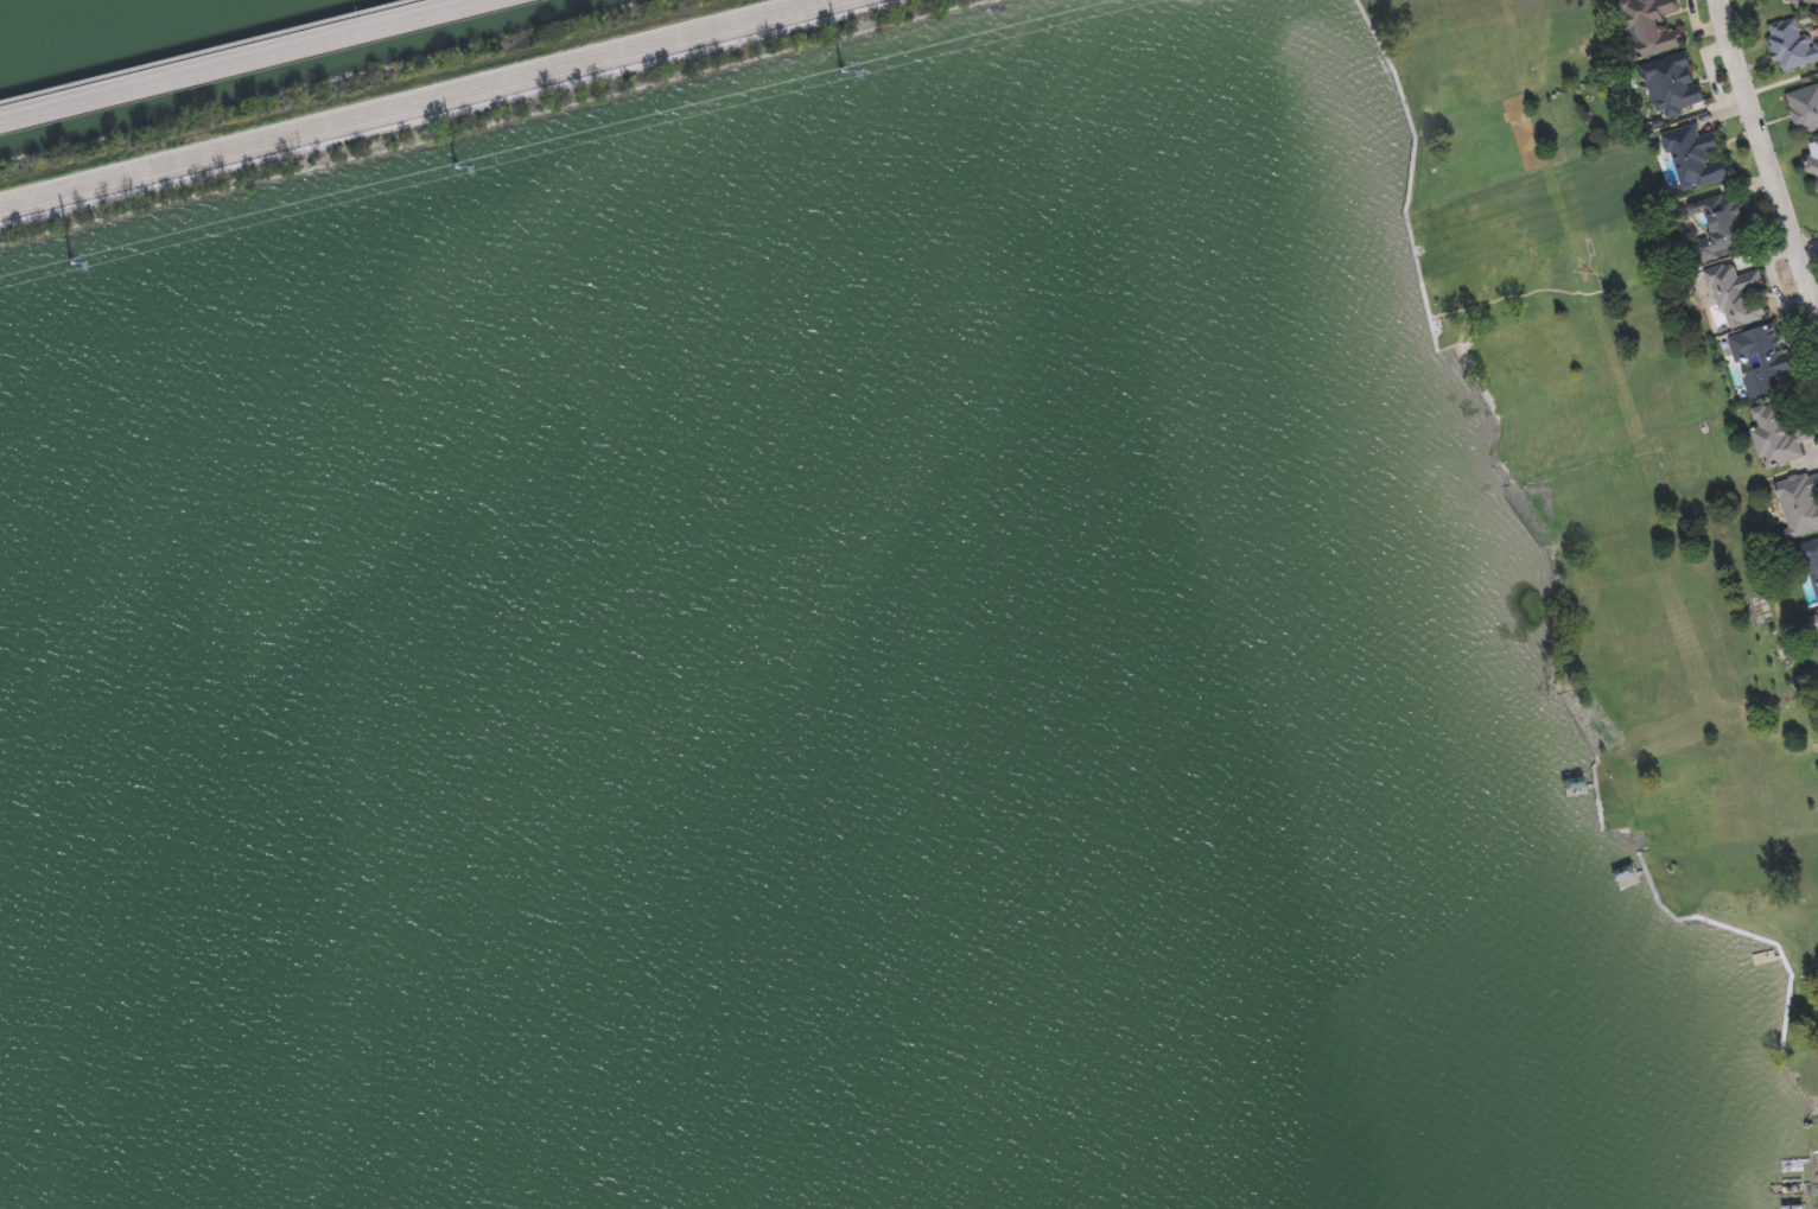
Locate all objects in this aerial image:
building: (1804, 0)
building: (1649, 26)
building: (1791, 45)
road: (204, 50)
road: (241, 59)
power tower: (844, 72)
building: (1671, 85)
road: (407, 100)
building: (1804, 108)
road: (1767, 153)
building: (1695, 155)
building: (1811, 161)
power tower: (457, 168)
building: (1817, 189)
building: (1718, 227)
road: (1810, 250)
power tower: (72, 265)
building: (1735, 294)
building: (1759, 359)
building: (1782, 432)
building: (1799, 503)

